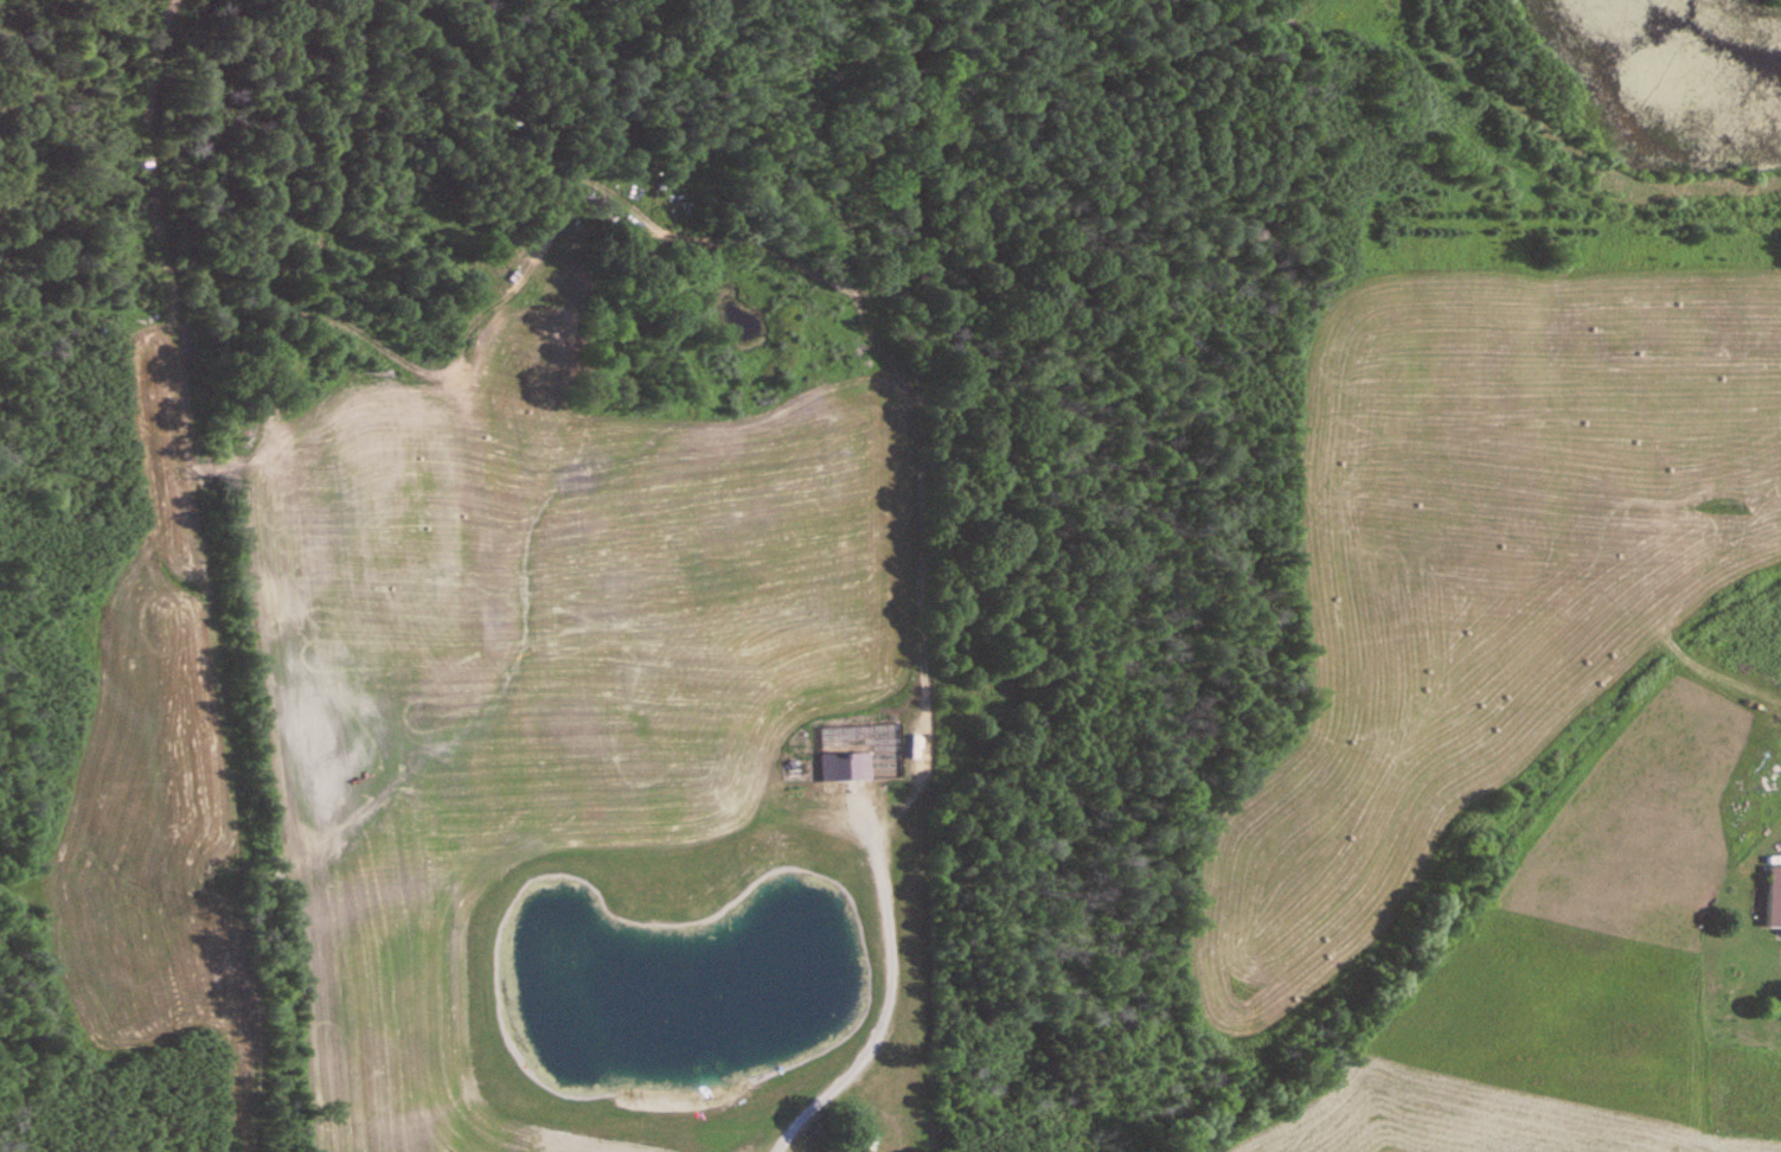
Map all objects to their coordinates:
building: (845, 767)
building: (1773, 897)
road: (883, 997)

